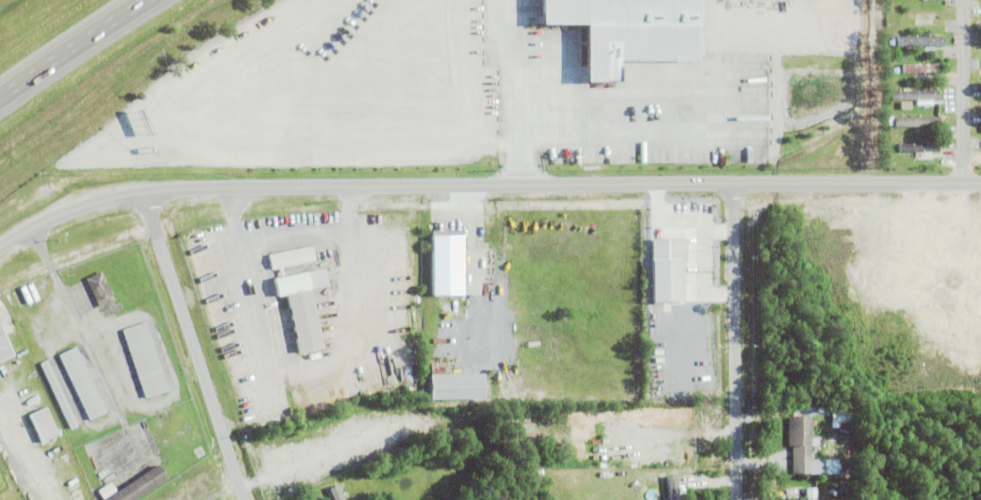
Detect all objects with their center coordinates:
building: (920, 12)
building: (636, 30)
building: (920, 39)
road: (74, 49)
building: (922, 66)
road: (973, 89)
road: (518, 92)
building: (915, 93)
road: (637, 101)
building: (917, 119)
building: (916, 145)
road: (484, 185)
building: (292, 257)
building: (447, 262)
building: (671, 269)
building: (99, 288)
building: (300, 308)
road: (735, 342)
road: (195, 345)
building: (4, 347)
road: (89, 348)
building: (314, 355)
building: (145, 359)
building: (82, 382)
building: (454, 382)
building: (38, 395)
building: (58, 395)
building: (846, 416)
building: (43, 423)
building: (140, 433)
building: (800, 435)
building: (121, 441)
building: (112, 443)
building: (103, 445)
building: (52, 449)
building: (817, 466)
building: (652, 483)
building: (139, 484)
building: (674, 487)
building: (107, 490)
building: (313, 491)
building: (666, 492)
building: (810, 493)
building: (844, 494)

